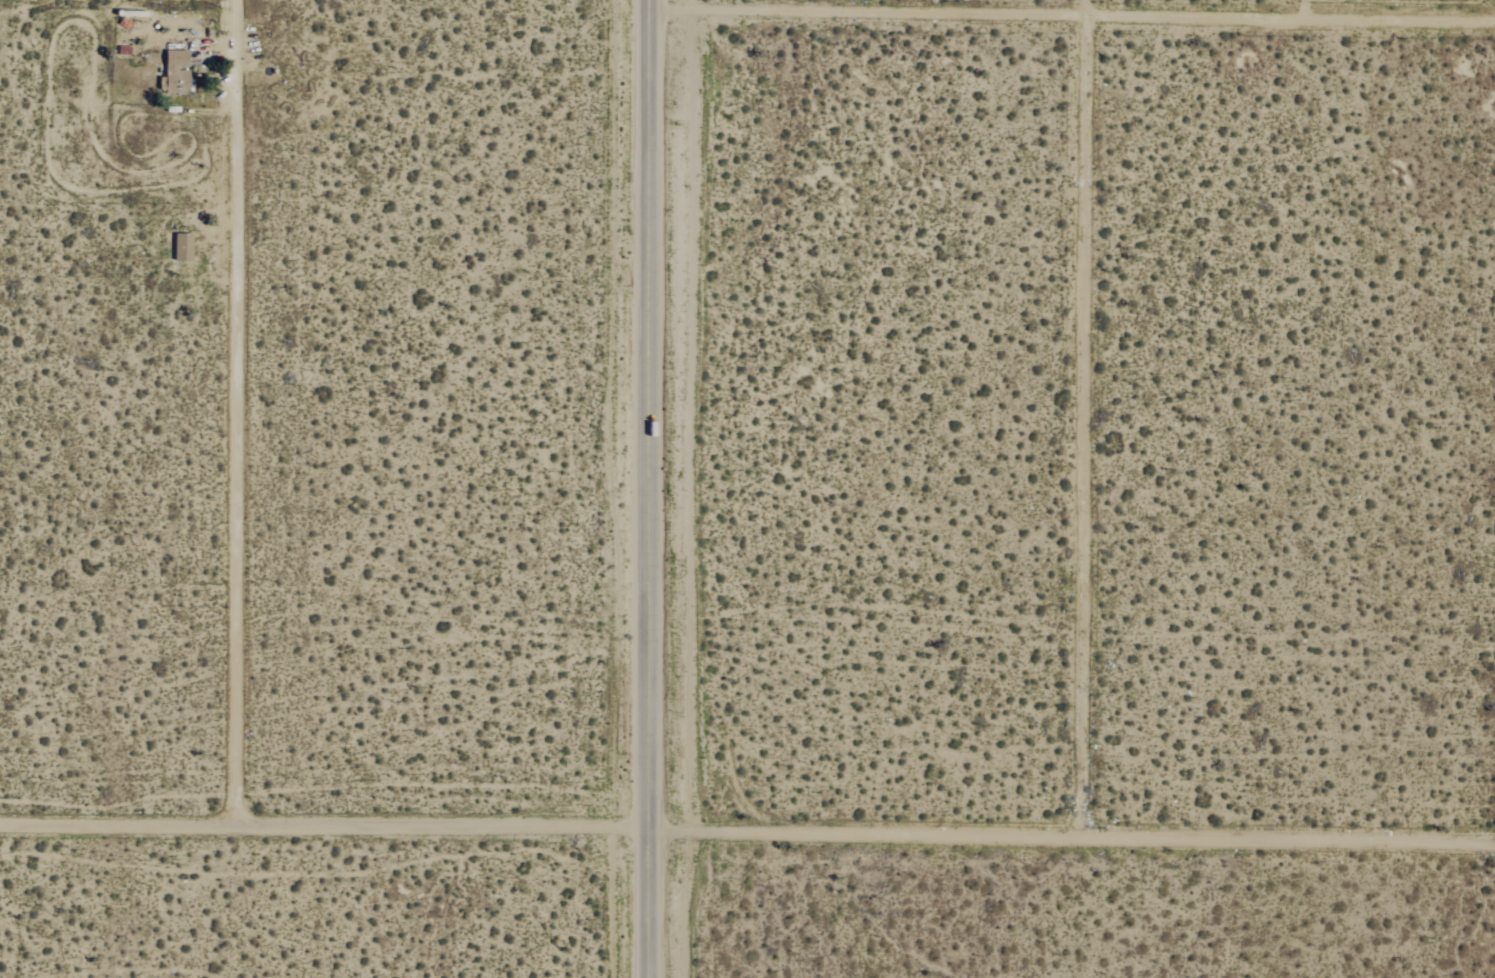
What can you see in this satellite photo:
road: (1072, 12)
road: (239, 413)
road: (1083, 415)
road: (652, 488)
road: (747, 829)

